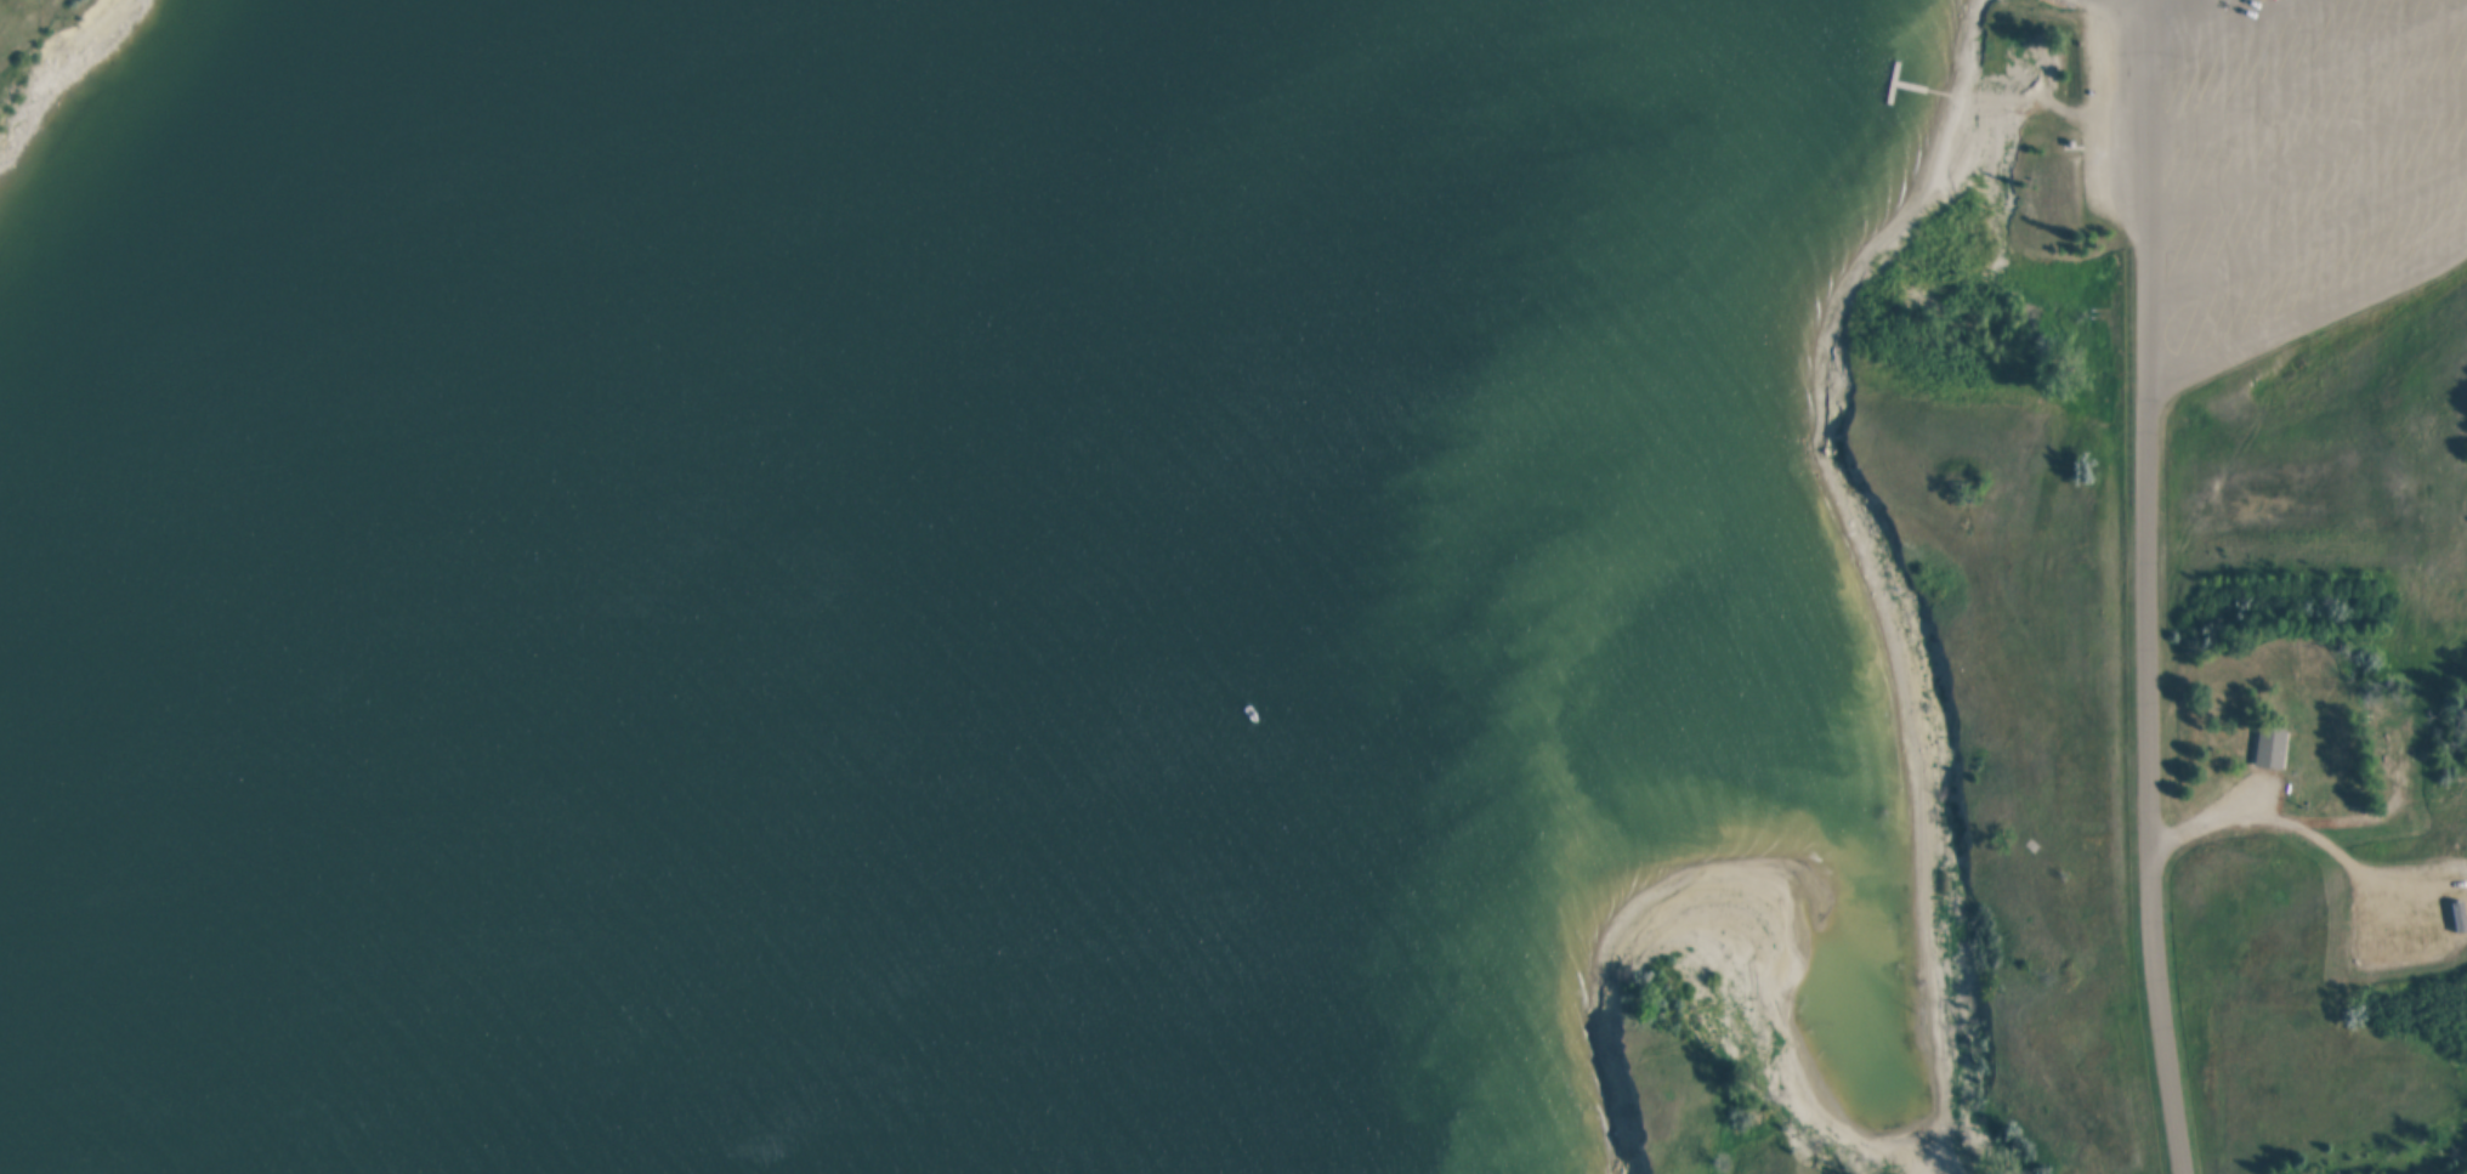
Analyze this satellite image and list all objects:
road: (2222, 32)
road: (2307, 78)
pier: (1986, 91)
pier: (2009, 96)
road: (2307, 157)
parking lot: (2281, 168)
road: (2307, 240)
road: (2307, 318)
road: (2145, 588)
park: (2204, 589)
building: (2382, 722)
building: (2270, 748)
road: (2298, 816)
park: (1672, 1082)
pier: (1938, 1163)

